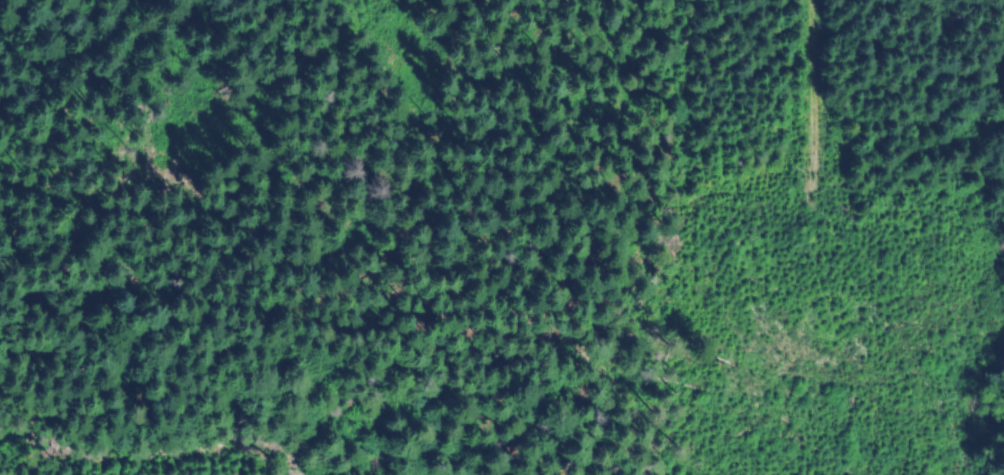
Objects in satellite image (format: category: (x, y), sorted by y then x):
road: (280, 251)

